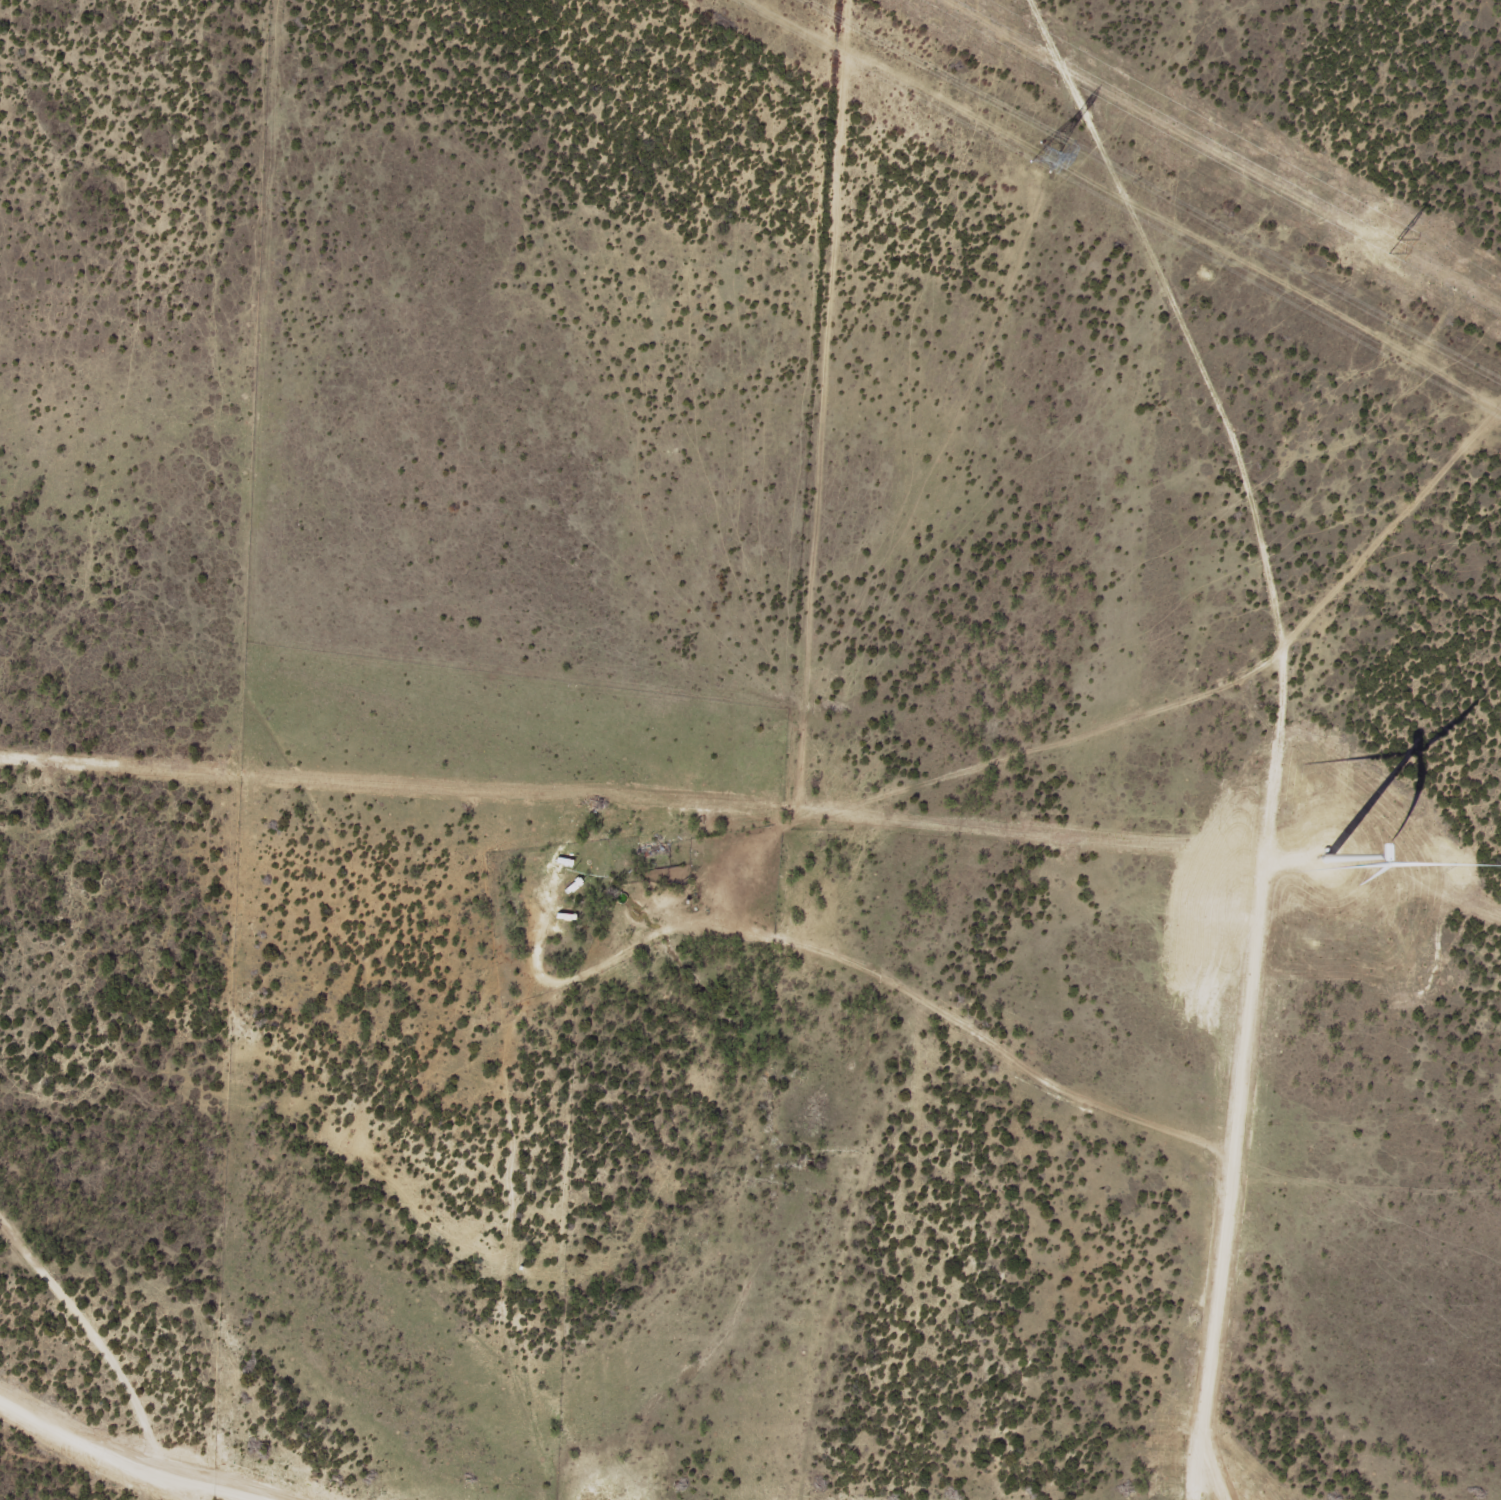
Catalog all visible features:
power tower: (1038, 158)
road: (858, 407)
road: (829, 812)
wind turbine: (1333, 852)
road: (108, 1351)

